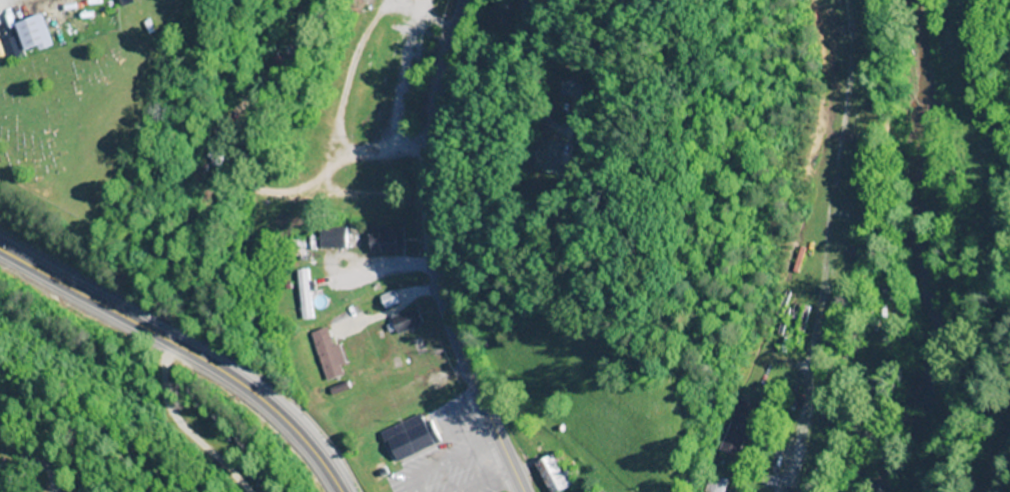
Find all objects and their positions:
building: (179, 12)
building: (41, 37)
building: (400, 40)
park: (76, 117)
building: (220, 155)
building: (825, 215)
building: (389, 238)
road: (431, 251)
building: (306, 294)
building: (390, 299)
building: (407, 321)
building: (331, 354)
road: (178, 363)
building: (742, 426)
building: (412, 440)
road: (34, 458)
park: (25, 463)
building: (555, 473)
building: (814, 480)
building: (717, 483)

